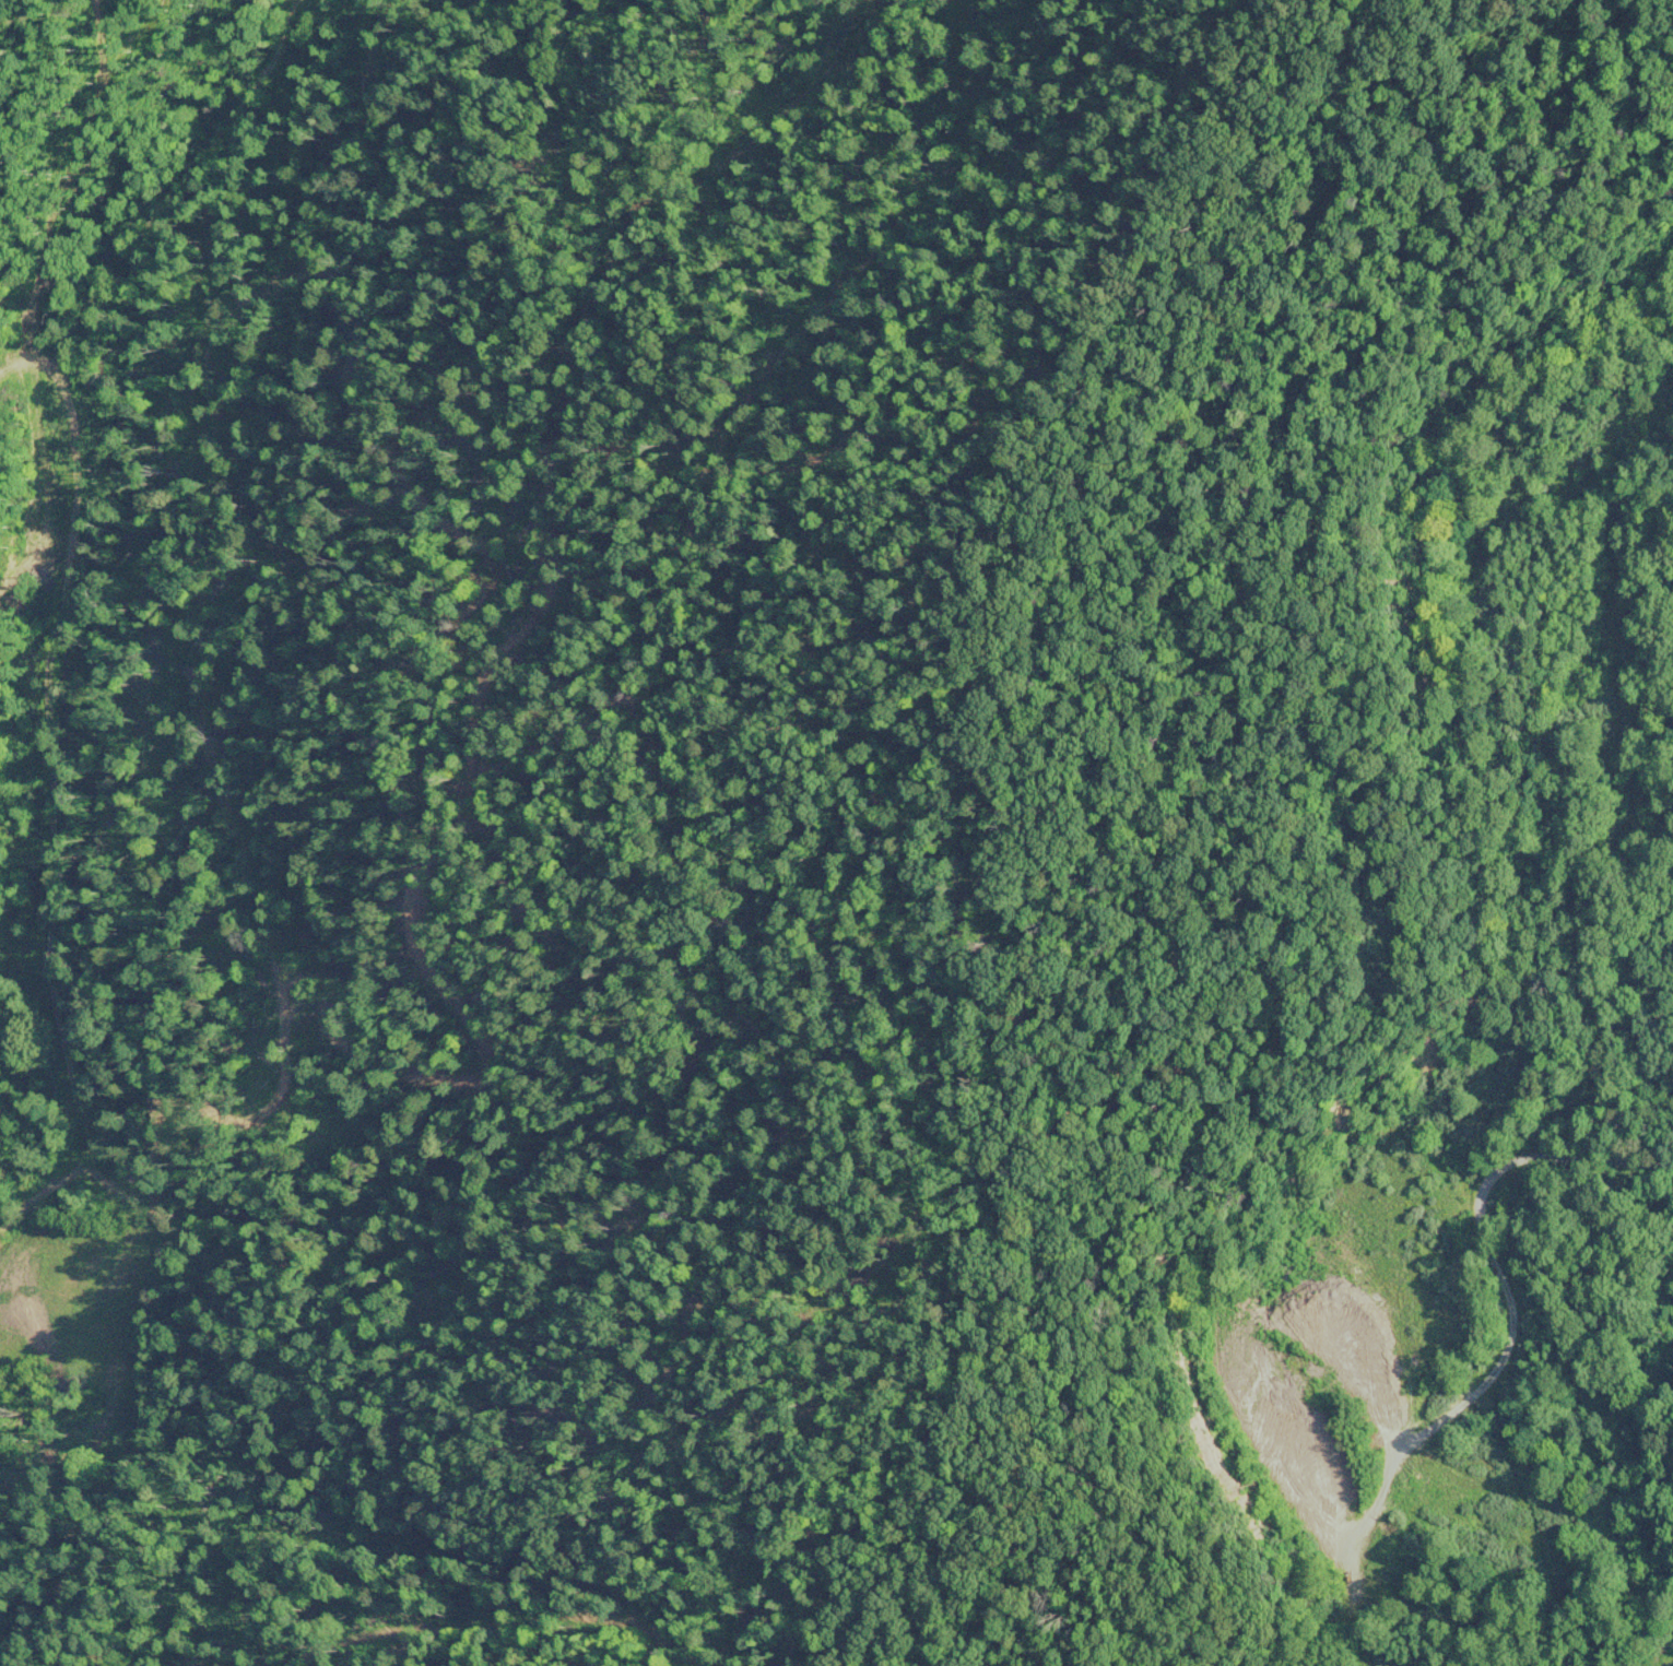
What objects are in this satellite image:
road: (1513, 825)
road: (1535, 1180)
road: (1416, 1367)

